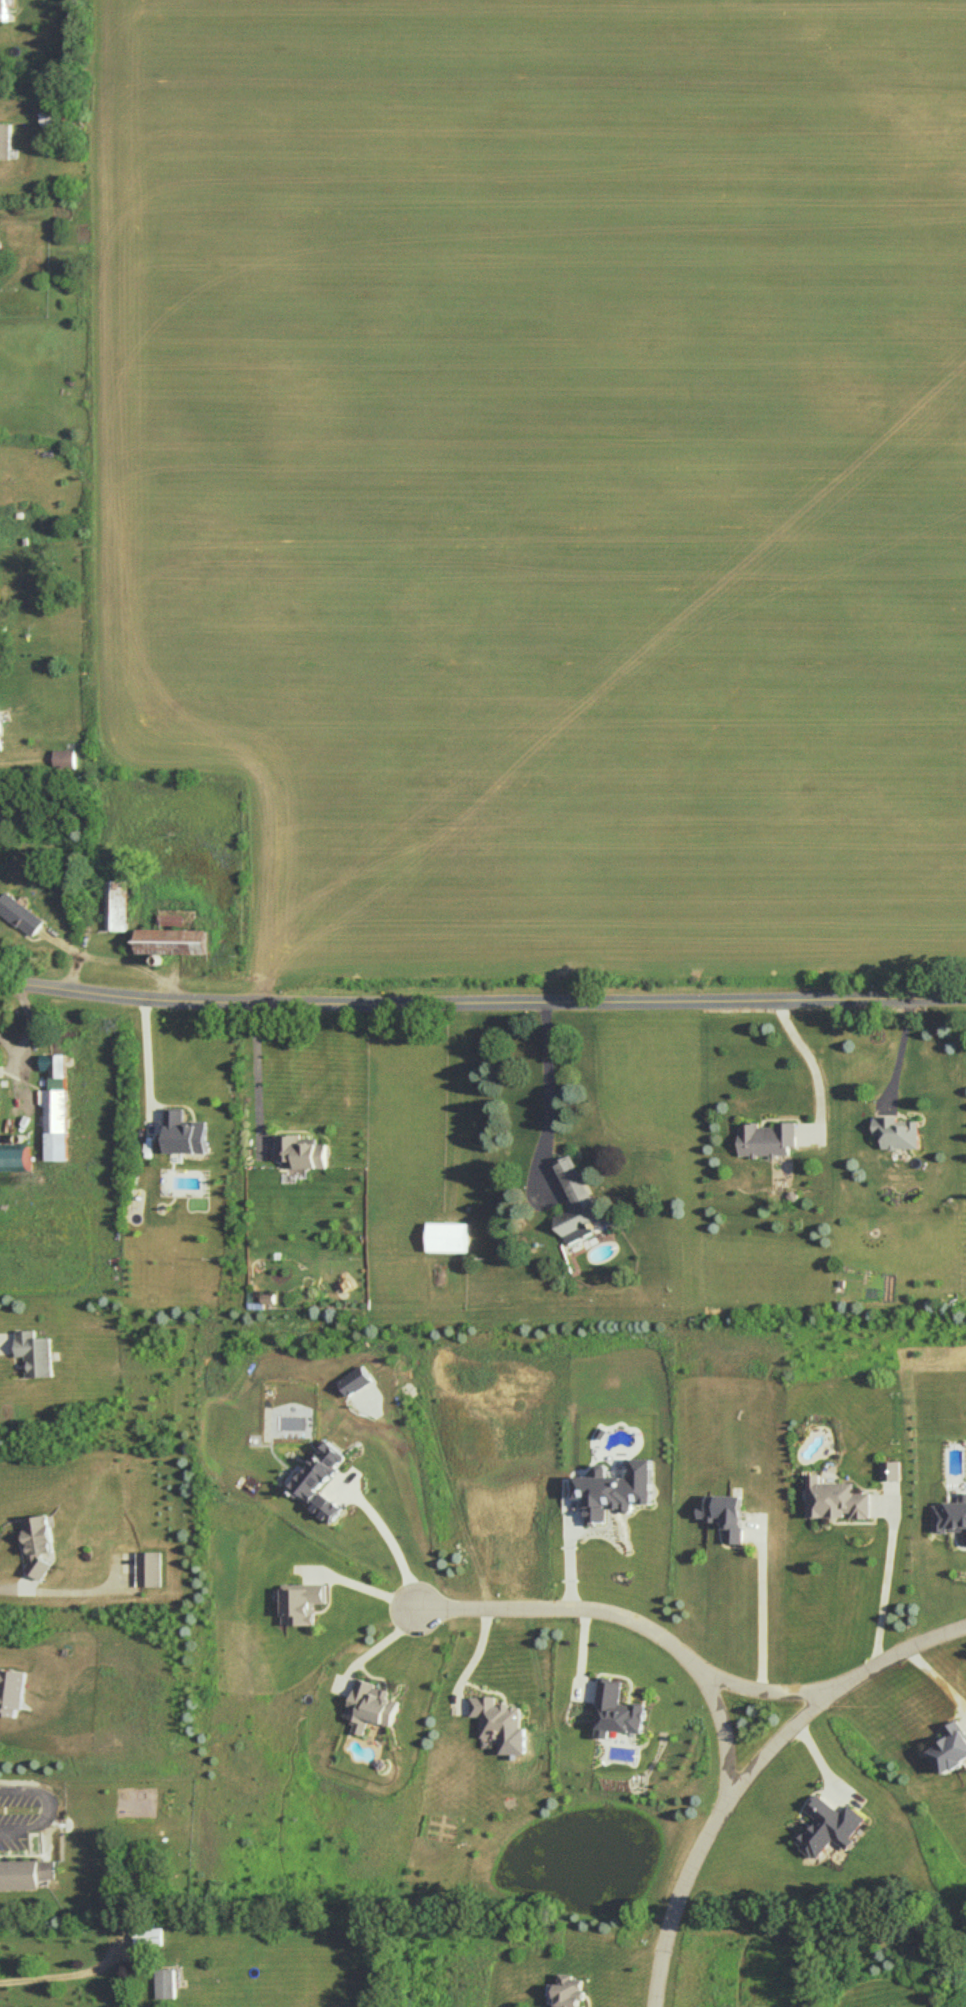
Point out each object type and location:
building: (4, 10)
building: (6, 140)
building: (0, 595)
building: (1, 740)
building: (64, 758)
building: (116, 905)
building: (20, 913)
building: (170, 941)
road: (482, 1003)
road: (899, 1052)
road: (148, 1063)
building: (55, 1064)
road: (815, 1068)
road: (257, 1077)
road: (549, 1095)
building: (57, 1124)
building: (897, 1131)
building: (185, 1132)
building: (767, 1138)
building: (302, 1151)
building: (16, 1157)
building: (577, 1202)
road: (7, 1340)
building: (34, 1352)
building: (353, 1380)
building: (891, 1470)
building: (322, 1481)
building: (615, 1490)
building: (836, 1499)
building: (726, 1515)
building: (949, 1516)
building: (36, 1541)
road: (391, 1541)
road: (569, 1557)
building: (149, 1568)
road: (363, 1586)
road: (882, 1587)
road: (66, 1590)
building: (302, 1602)
road: (759, 1613)
road: (634, 1626)
road: (483, 1658)
building: (11, 1690)
road: (763, 1695)
building: (371, 1705)
building: (616, 1710)
building: (496, 1717)
building: (950, 1747)
road: (755, 1771)
road: (45, 1806)
building: (828, 1826)
building: (23, 1873)
building: (149, 1934)
road: (66, 1977)
building: (167, 1982)
building: (571, 1991)

